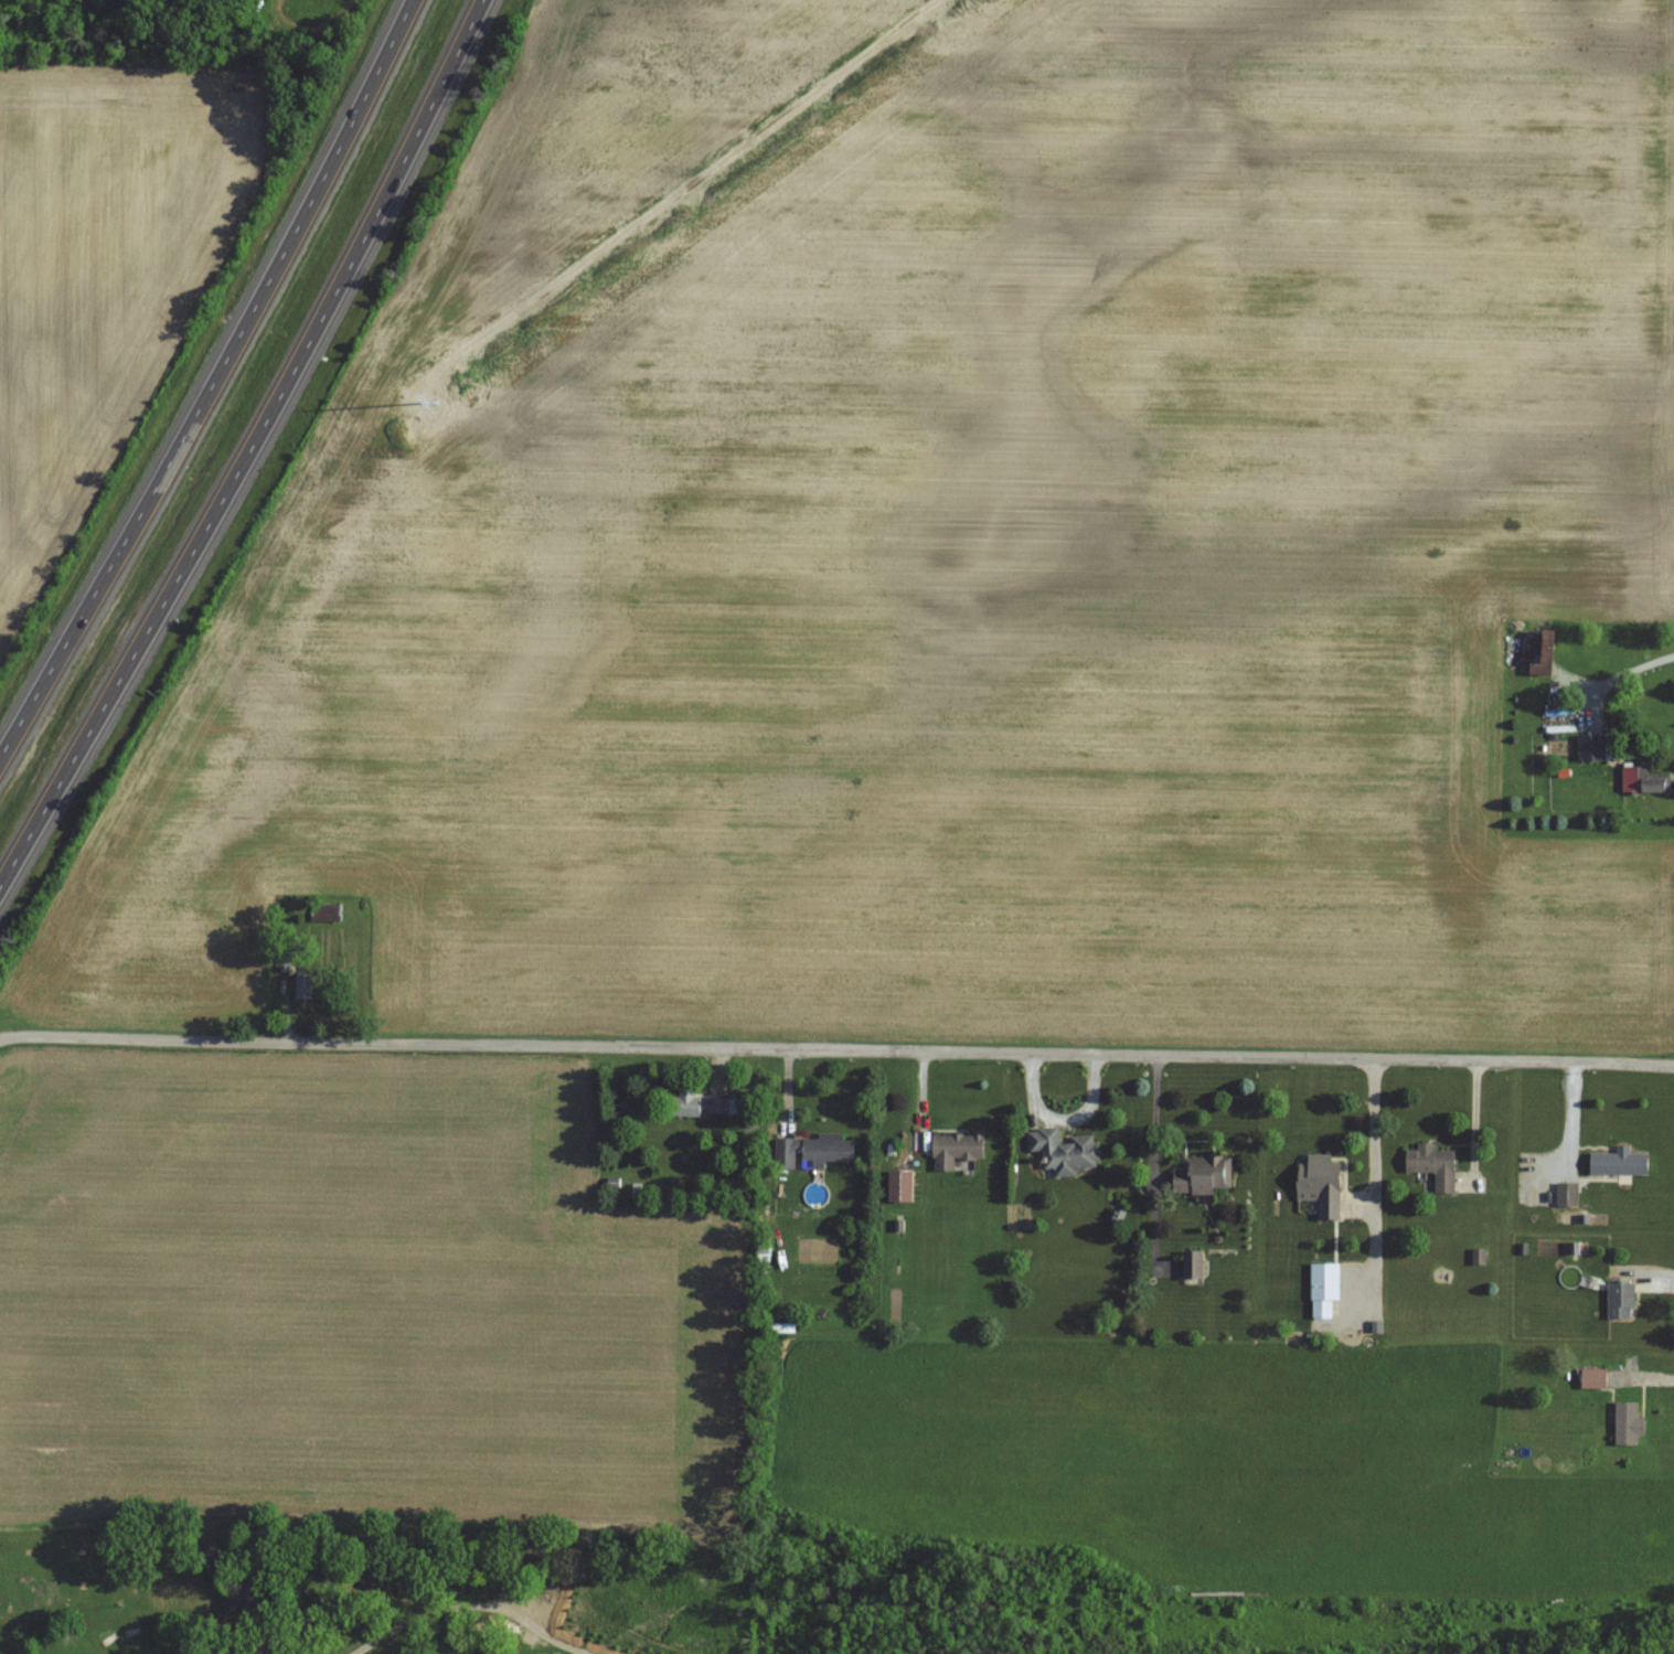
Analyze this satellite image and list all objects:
power tower: (459, 376)
road: (210, 382)
road: (250, 449)
building: (1539, 650)
building: (1592, 747)
building: (1644, 779)
building: (305, 985)
road: (836, 1049)
building: (704, 1106)
building: (957, 1149)
building: (814, 1151)
building: (1064, 1151)
building: (1620, 1163)
building: (1435, 1165)
building: (1204, 1175)
building: (1322, 1185)
road: (1372, 1185)
building: (1194, 1264)
building: (1325, 1289)
building: (1621, 1301)
building: (1595, 1378)
building: (1630, 1423)
road: (126, 1614)
building: (306, 1629)
road: (160, 1631)
road: (181, 1631)
road: (44, 1635)
building: (273, 1640)
building: (447, 1640)
road: (548, 1640)
road: (204, 1650)
road: (586, 1653)

